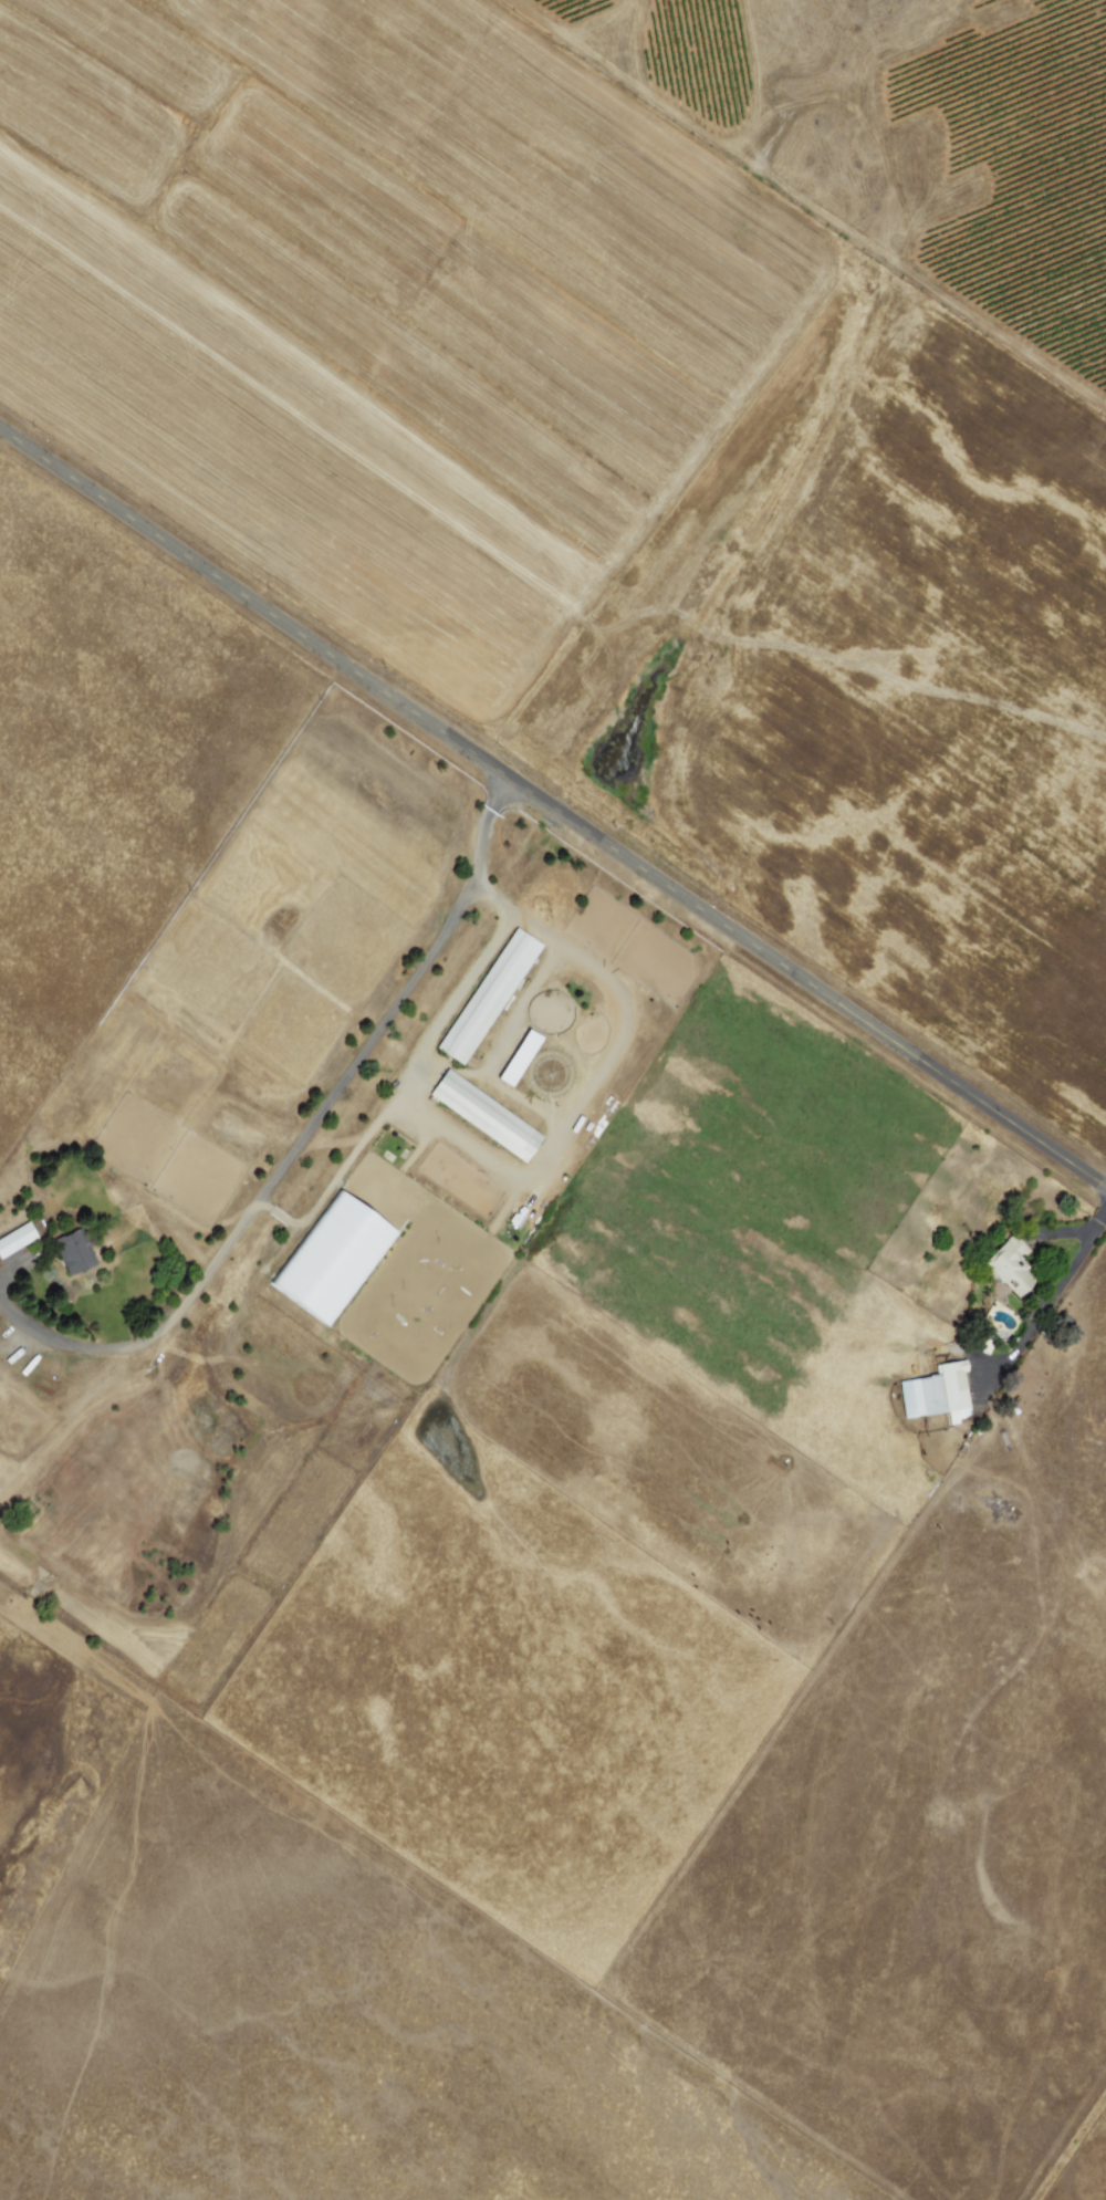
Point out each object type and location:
road: (553, 805)
building: (488, 997)
road: (449, 1005)
building: (519, 1057)
building: (484, 1116)
road: (301, 1138)
road: (541, 1164)
building: (15, 1239)
building: (73, 1252)
building: (332, 1259)
building: (1010, 1266)
road: (1, 1274)
road: (1052, 1297)
building: (937, 1394)

